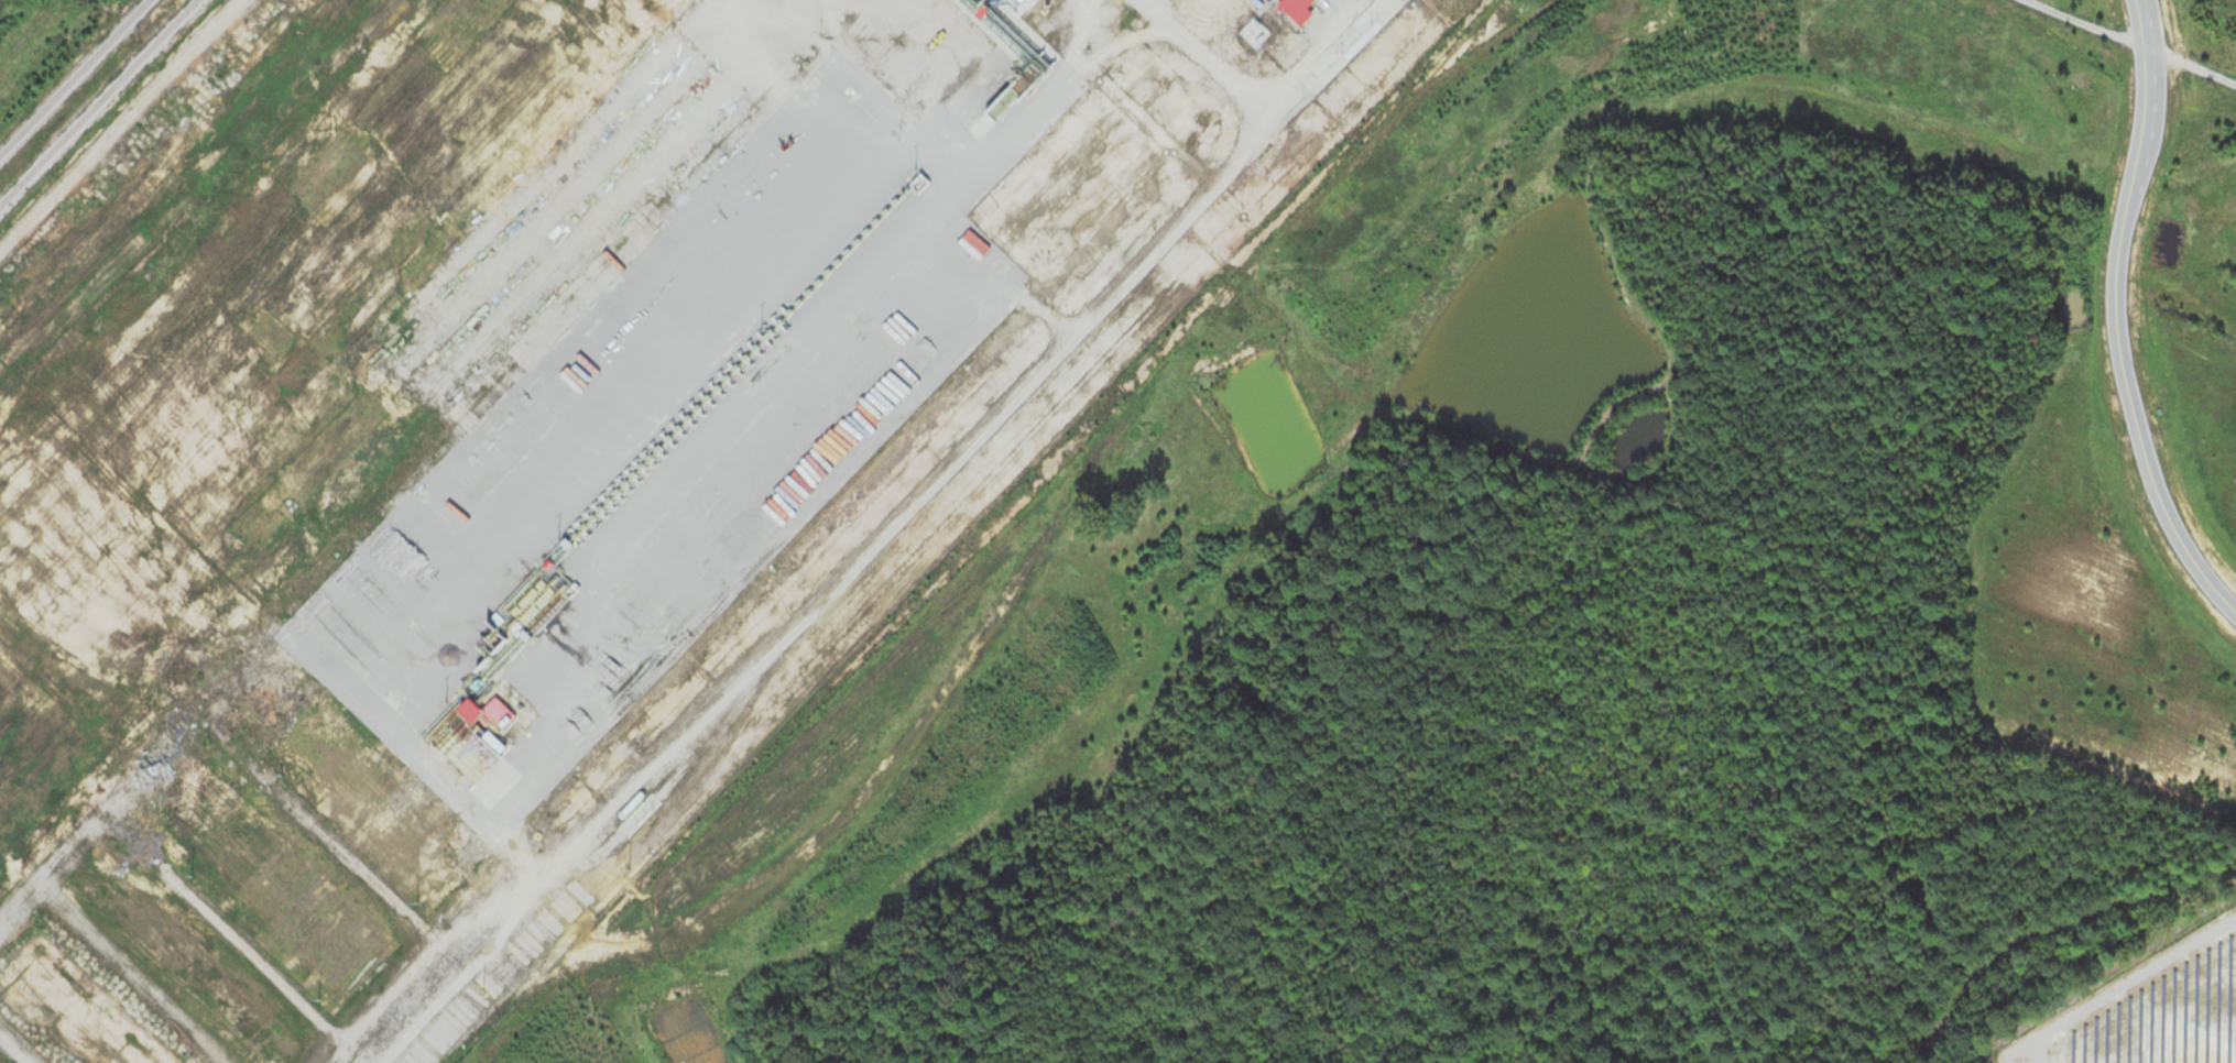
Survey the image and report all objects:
building: (1460, 6)
railway: (74, 77)
building: (1127, 298)

